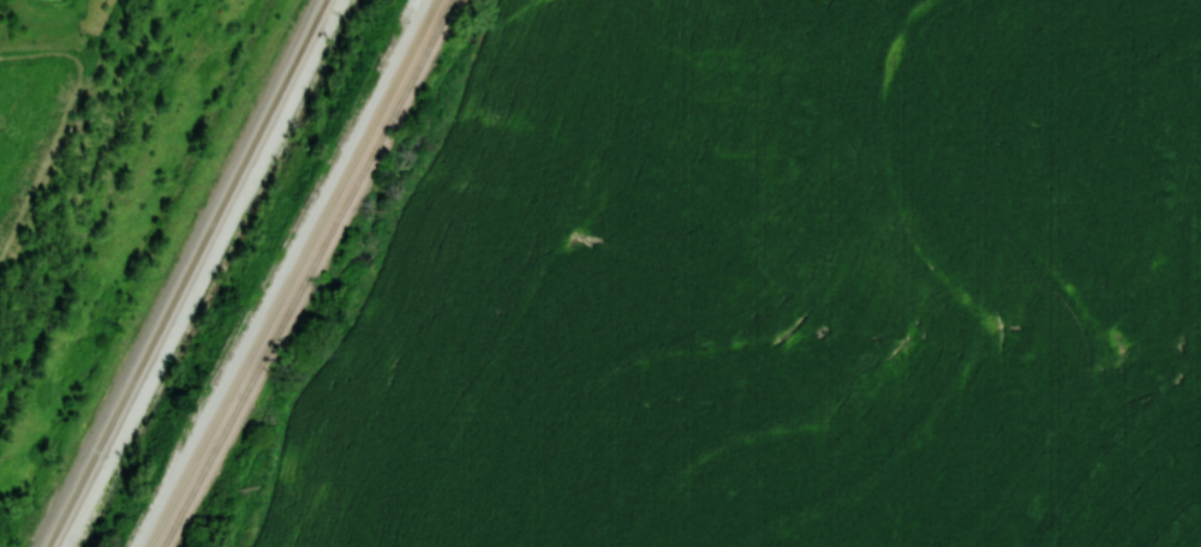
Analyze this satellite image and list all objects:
railway: (289, 272)
railway: (187, 273)

